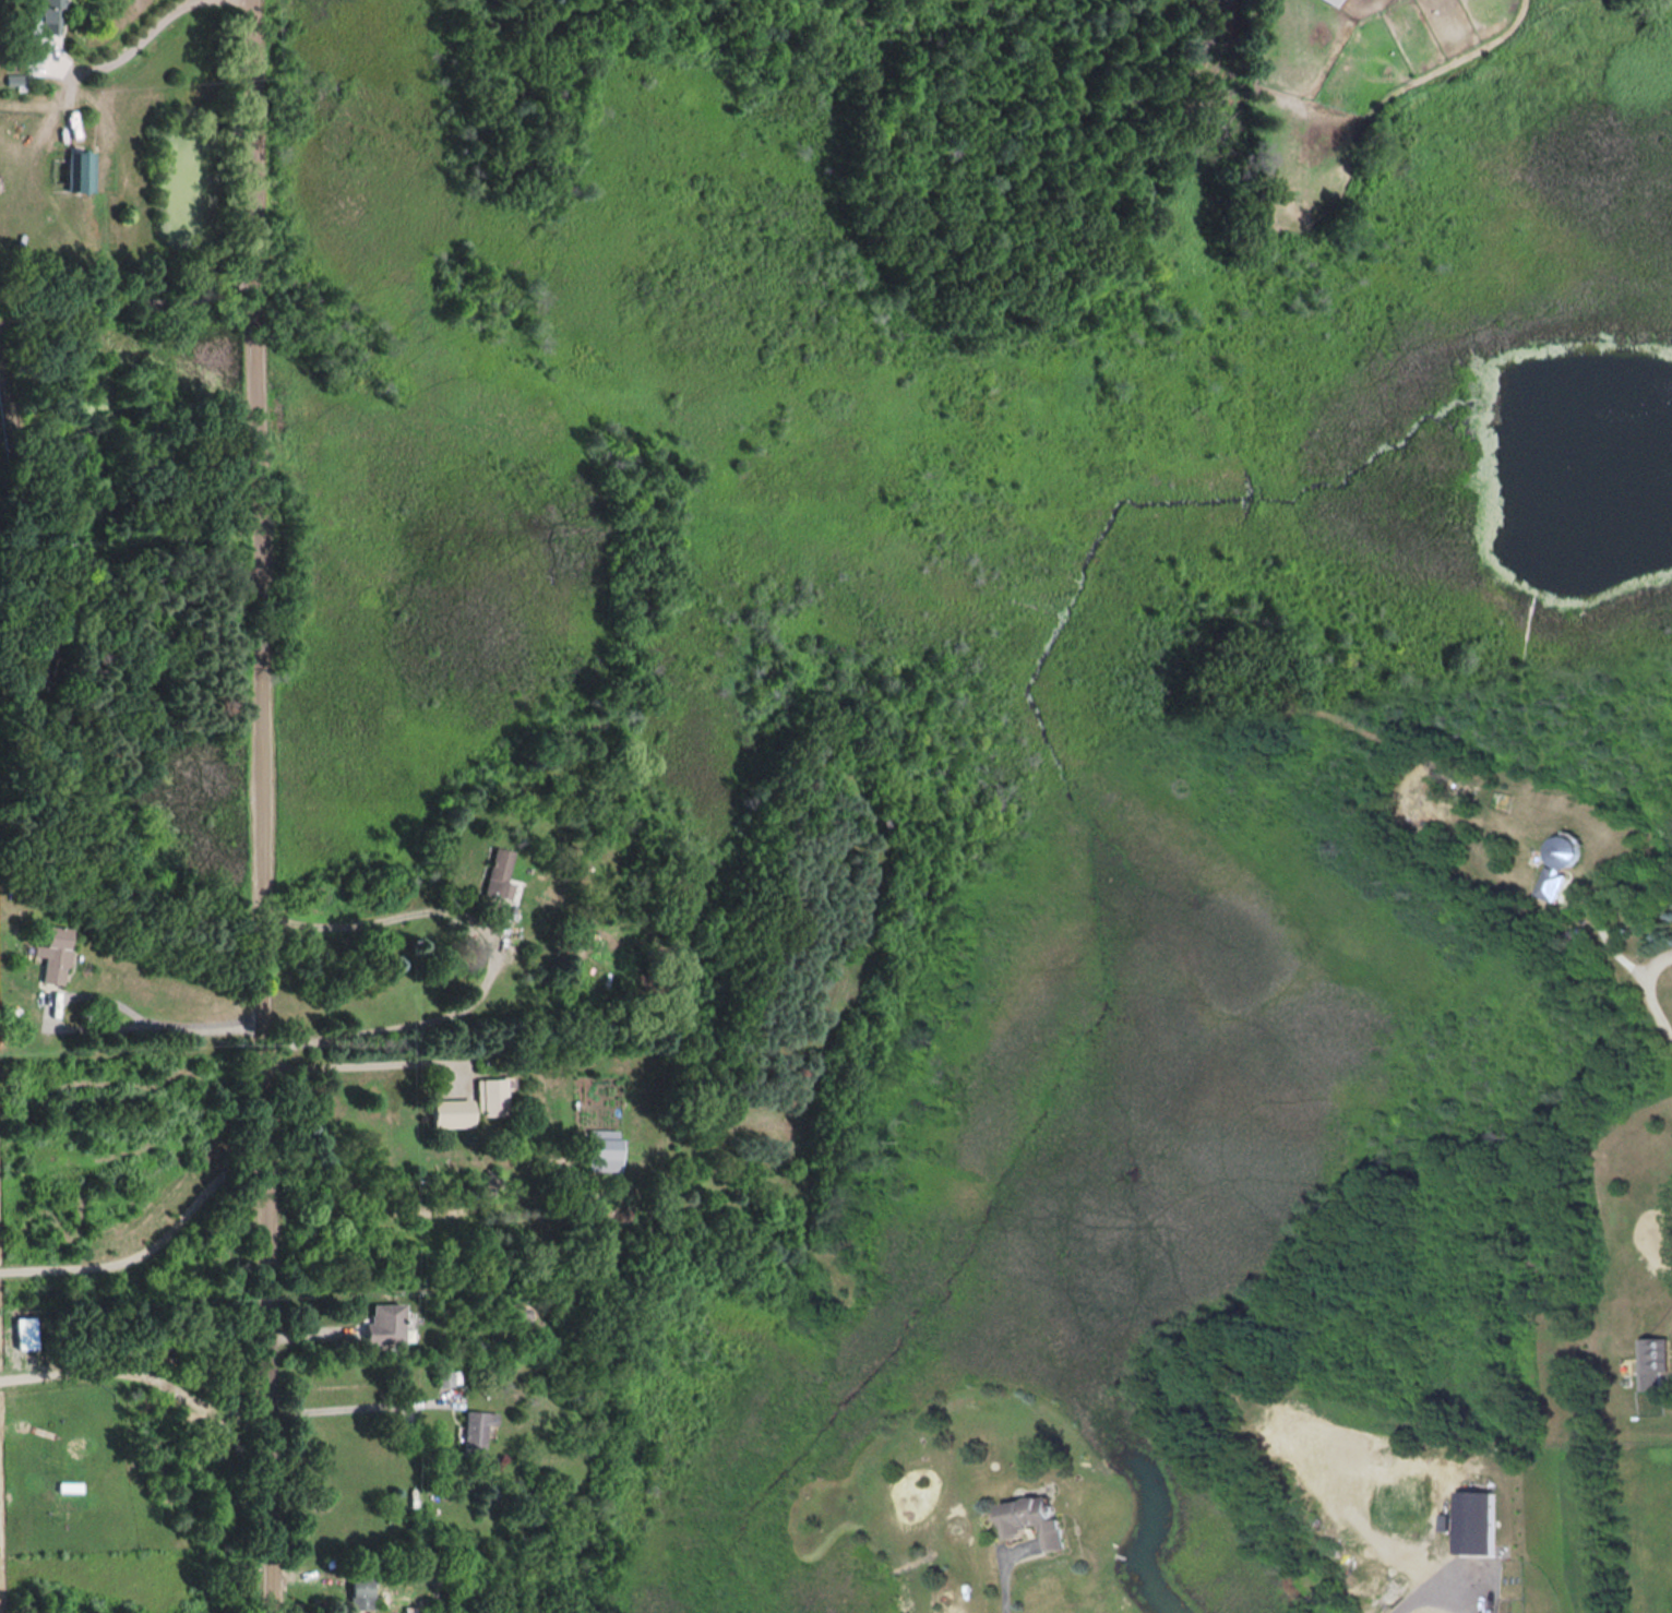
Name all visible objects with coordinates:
building: (49, 15)
road: (134, 47)
building: (74, 170)
road: (124, 298)
road: (261, 805)
building: (1564, 867)
building: (495, 872)
road: (369, 918)
road: (1619, 947)
building: (52, 954)
road: (418, 1021)
road: (141, 1027)
road: (361, 1065)
building: (490, 1097)
building: (450, 1112)
building: (602, 1143)
road: (147, 1248)
building: (384, 1323)
building: (1657, 1362)
road: (136, 1372)
road: (350, 1407)
building: (474, 1432)
building: (1040, 1517)
building: (1478, 1519)
road: (1008, 1588)
road: (1421, 1590)
building: (358, 1591)
building: (410, 1609)

